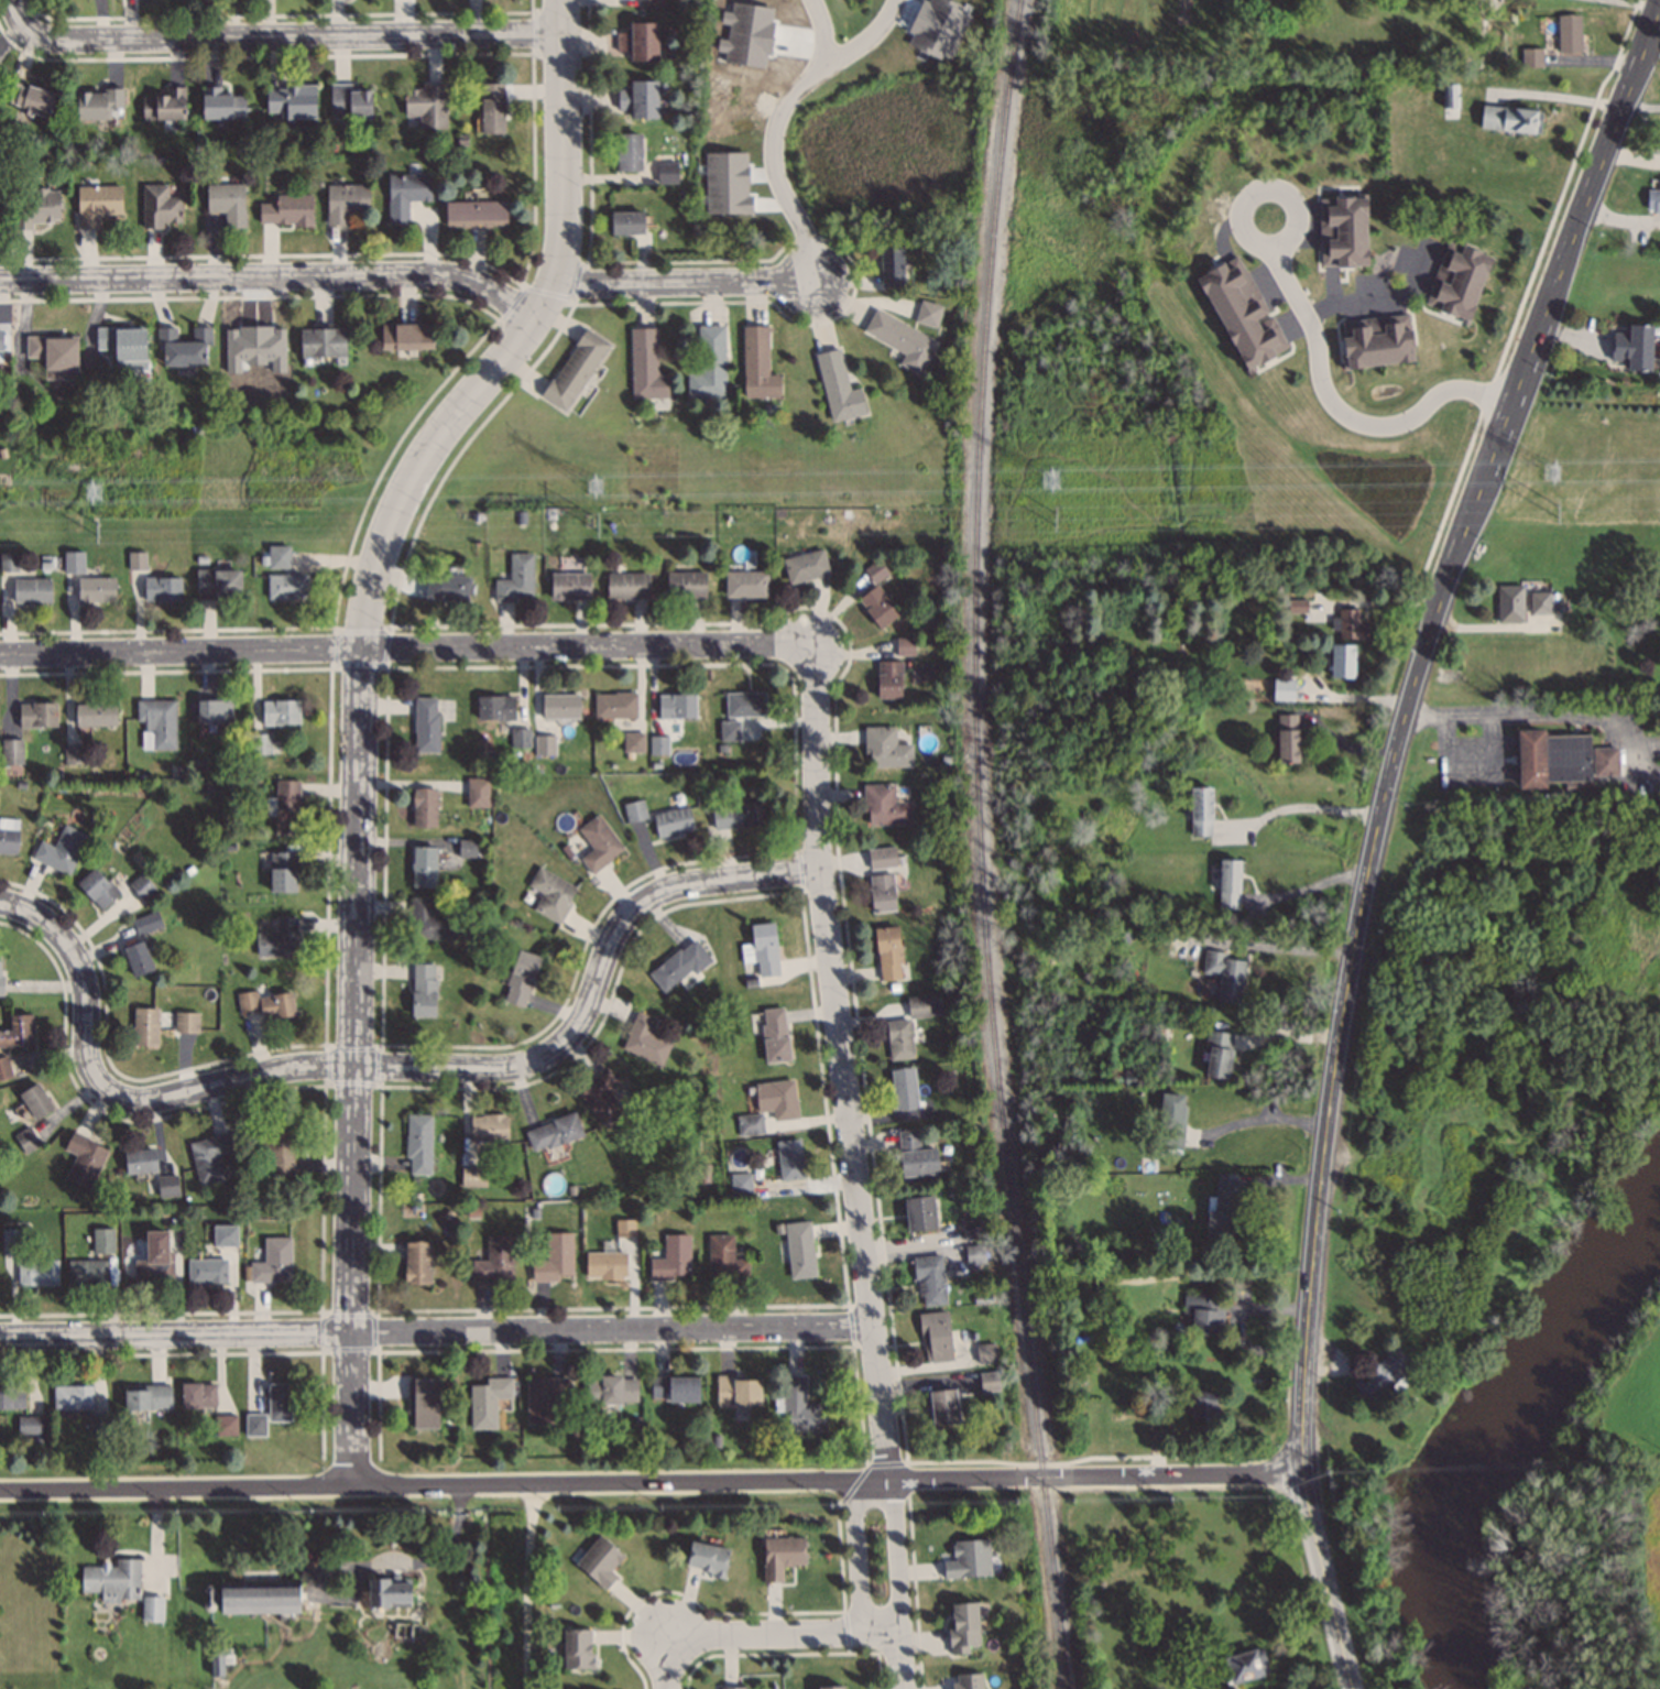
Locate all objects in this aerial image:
building: (656, 3)
road: (558, 18)
road: (28, 26)
building: (1570, 36)
road: (307, 39)
building: (638, 43)
building: (1531, 59)
road: (822, 69)
building: (1451, 99)
building: (640, 100)
building: (26, 101)
building: (292, 102)
building: (349, 103)
building: (97, 106)
road: (1639, 106)
building: (165, 107)
building: (222, 107)
building: (427, 107)
building: (492, 110)
building: (1510, 122)
building: (1658, 143)
building: (629, 154)
building: (666, 173)
road: (776, 178)
building: (406, 196)
building: (1653, 201)
building: (346, 204)
building: (228, 205)
building: (97, 206)
building: (36, 209)
building: (161, 209)
building: (287, 211)
building: (476, 215)
building: (626, 225)
building: (1343, 233)
building: (891, 269)
road: (272, 279)
road: (682, 282)
building: (1459, 283)
road: (1378, 297)
building: (1242, 315)
building: (928, 316)
building: (101, 339)
building: (406, 339)
building: (1, 342)
building: (902, 342)
building: (1377, 344)
building: (323, 345)
building: (1634, 349)
building: (184, 350)
building: (130, 351)
building: (54, 357)
building: (709, 366)
building: (757, 367)
building: (646, 368)
building: (576, 371)
building: (839, 390)
road: (1330, 404)
power tower: (1550, 473)
power tower: (1049, 481)
power tower: (593, 488)
power tower: (92, 493)
power tower: (1555, 511)
power tower: (1053, 519)
power tower: (597, 525)
power tower: (98, 531)
building: (279, 559)
building: (74, 563)
building: (9, 564)
building: (806, 567)
building: (516, 580)
building: (218, 585)
building: (746, 585)
building: (686, 586)
building: (570, 587)
building: (627, 587)
building: (287, 588)
building: (448, 589)
building: (96, 590)
building: (162, 590)
building: (32, 591)
building: (877, 599)
building: (1540, 603)
building: (1510, 604)
building: (1352, 625)
building: (905, 649)
road: (405, 654)
building: (1343, 662)
building: (889, 682)
building: (1282, 691)
building: (745, 705)
building: (614, 706)
building: (560, 707)
building: (677, 707)
building: (495, 709)
building: (214, 712)
building: (281, 713)
road: (1552, 713)
building: (95, 715)
building: (37, 716)
building: (157, 726)
building: (427, 727)
road: (359, 731)
building: (730, 733)
building: (1287, 740)
building: (634, 743)
building: (261, 745)
building: (544, 747)
building: (658, 747)
building: (885, 750)
building: (12, 752)
building: (1561, 760)
building: (478, 794)
road: (1303, 806)
building: (884, 808)
building: (287, 809)
building: (424, 809)
building: (634, 813)
building: (1201, 813)
building: (739, 817)
building: (673, 822)
road: (1376, 826)
building: (598, 844)
railway: (975, 844)
building: (467, 850)
building: (62, 851)
building: (882, 859)
building: (424, 869)
building: (283, 873)
building: (1228, 885)
building: (142, 887)
road: (1308, 887)
building: (98, 890)
building: (882, 894)
building: (551, 895)
building: (430, 920)
building: (148, 924)
building: (279, 940)
road: (1276, 949)
building: (763, 950)
building: (888, 955)
building: (138, 959)
building: (679, 967)
building: (0, 974)
building: (1225, 976)
building: (521, 980)
building: (423, 992)
building: (266, 1006)
building: (924, 1007)
building: (186, 1023)
building: (145, 1028)
building: (18, 1033)
building: (775, 1036)
building: (899, 1040)
building: (645, 1042)
building: (1219, 1056)
road: (840, 1064)
road: (389, 1065)
building: (4, 1069)
building: (904, 1090)
building: (603, 1100)
building: (777, 1100)
building: (35, 1102)
road: (1262, 1119)
building: (1172, 1121)
building: (489, 1129)
building: (554, 1133)
building: (26, 1141)
building: (419, 1145)
building: (280, 1148)
building: (916, 1157)
building: (210, 1158)
building: (84, 1160)
building: (790, 1160)
building: (141, 1163)
building: (473, 1178)
building: (167, 1187)
building: (1222, 1211)
building: (920, 1216)
building: (225, 1238)
building: (102, 1242)
building: (11, 1243)
building: (799, 1252)
building: (555, 1261)
building: (673, 1261)
building: (724, 1261)
building: (154, 1262)
building: (495, 1263)
building: (273, 1264)
building: (417, 1264)
building: (605, 1267)
building: (207, 1273)
building: (37, 1274)
building: (87, 1275)
building: (929, 1283)
building: (1206, 1317)
road: (434, 1330)
building: (936, 1339)
building: (985, 1355)
building: (1383, 1377)
building: (990, 1383)
building: (612, 1392)
building: (675, 1392)
building: (739, 1393)
river: (1487, 1395)
building: (198, 1397)
building: (148, 1398)
building: (12, 1399)
building: (73, 1399)
building: (545, 1401)
building: (1204, 1403)
building: (280, 1404)
building: (488, 1404)
building: (426, 1405)
building: (944, 1408)
building: (802, 1410)
building: (30, 1427)
building: (225, 1427)
building: (255, 1427)
building: (1120, 1432)
road: (649, 1481)
road: (893, 1554)
road: (854, 1556)
building: (782, 1558)
building: (707, 1561)
building: (968, 1561)
building: (600, 1563)
building: (113, 1582)
road: (526, 1586)
building: (389, 1594)
building: (259, 1599)
building: (963, 1628)
road: (752, 1632)
building: (578, 1650)
road: (895, 1659)
building: (1245, 1667)
building: (969, 1682)
building: (843, 1688)

